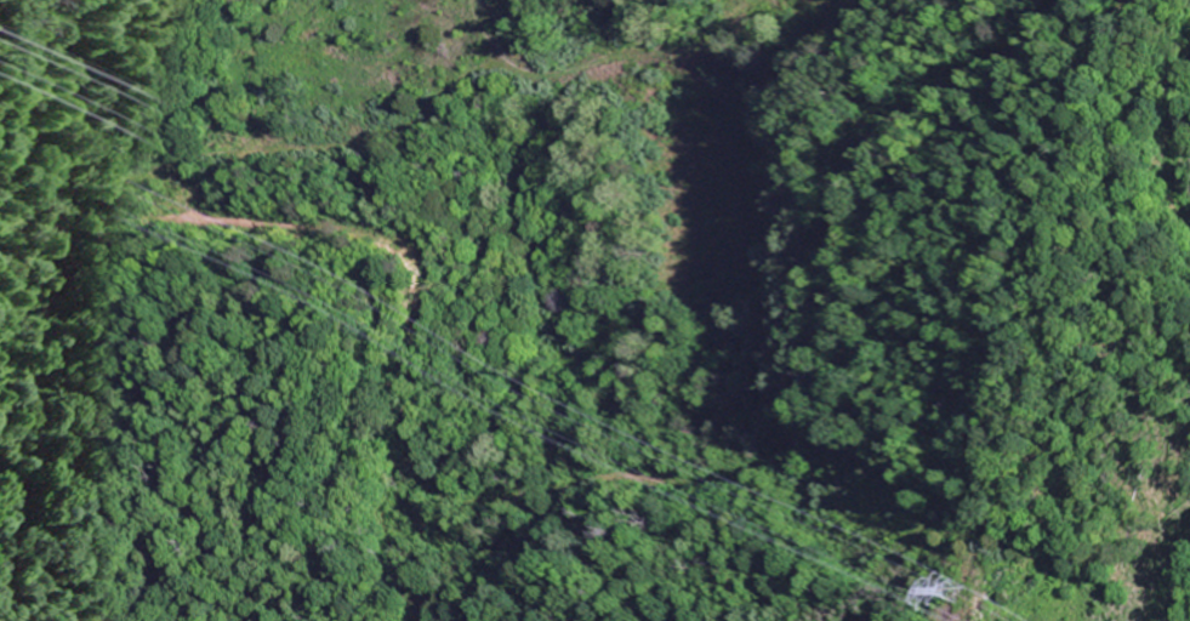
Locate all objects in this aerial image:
power tower: (967, 594)

